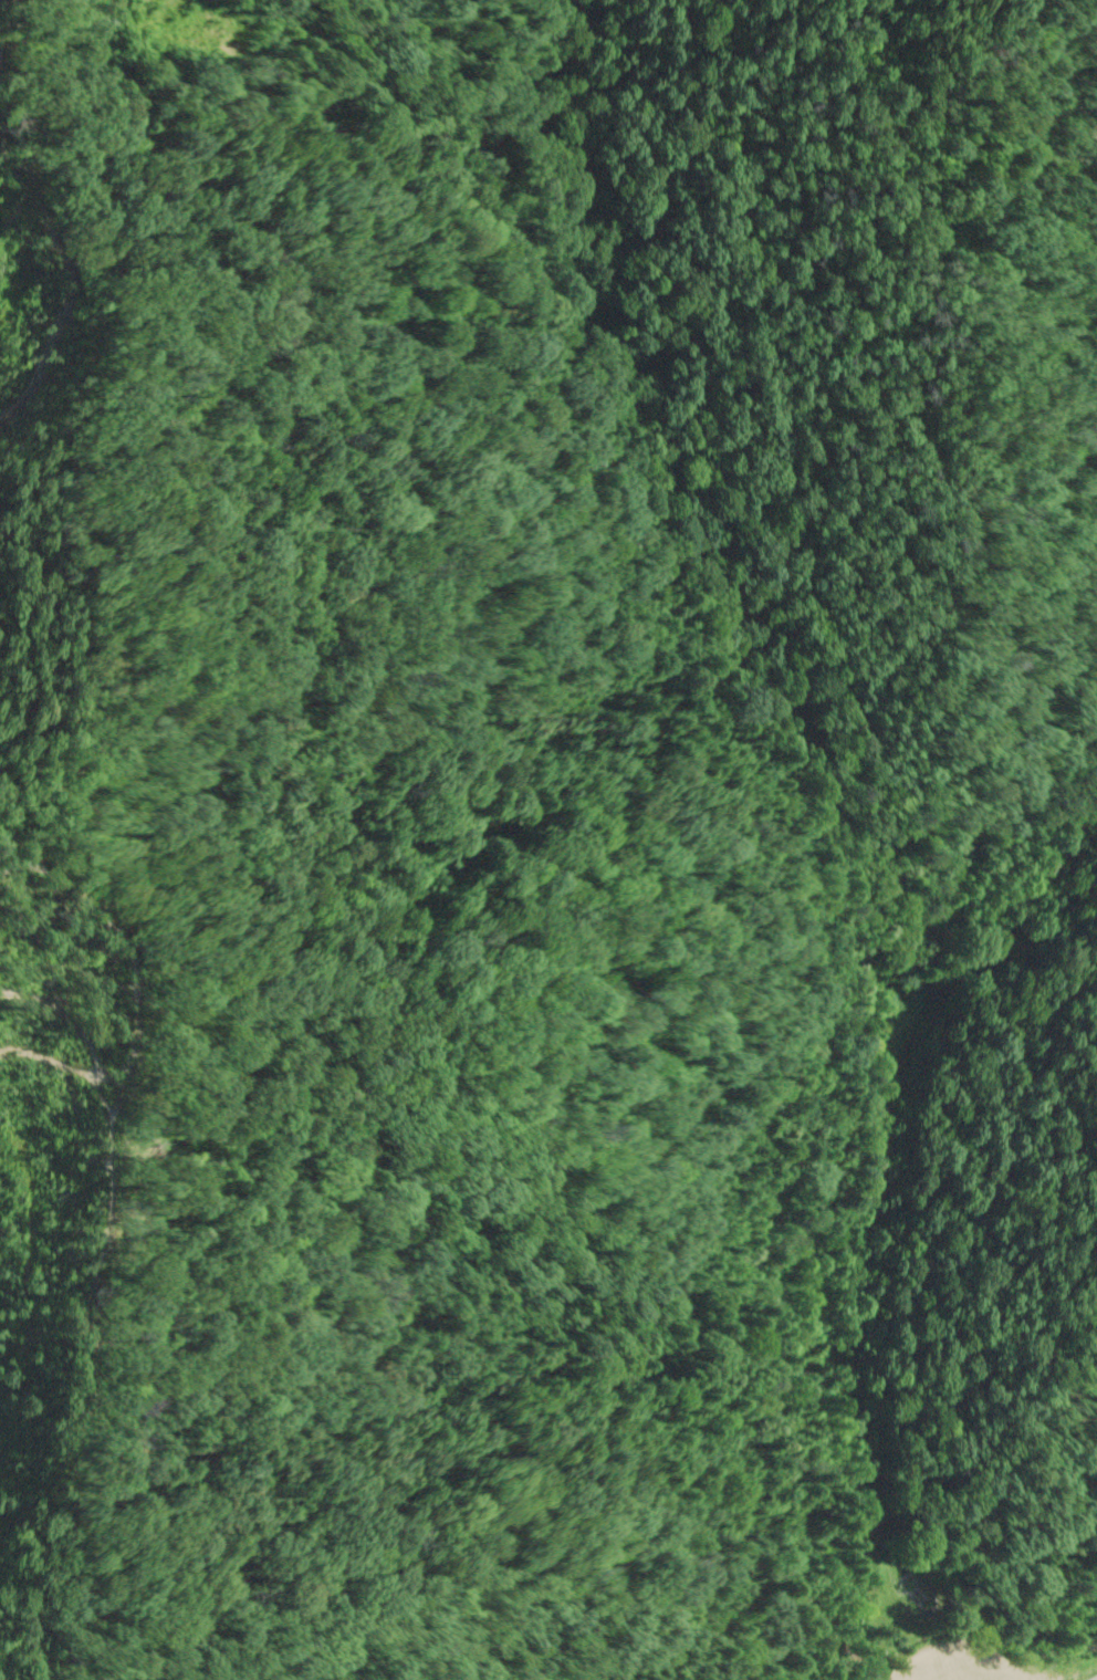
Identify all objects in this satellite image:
road: (833, 1530)
road: (1059, 1645)

